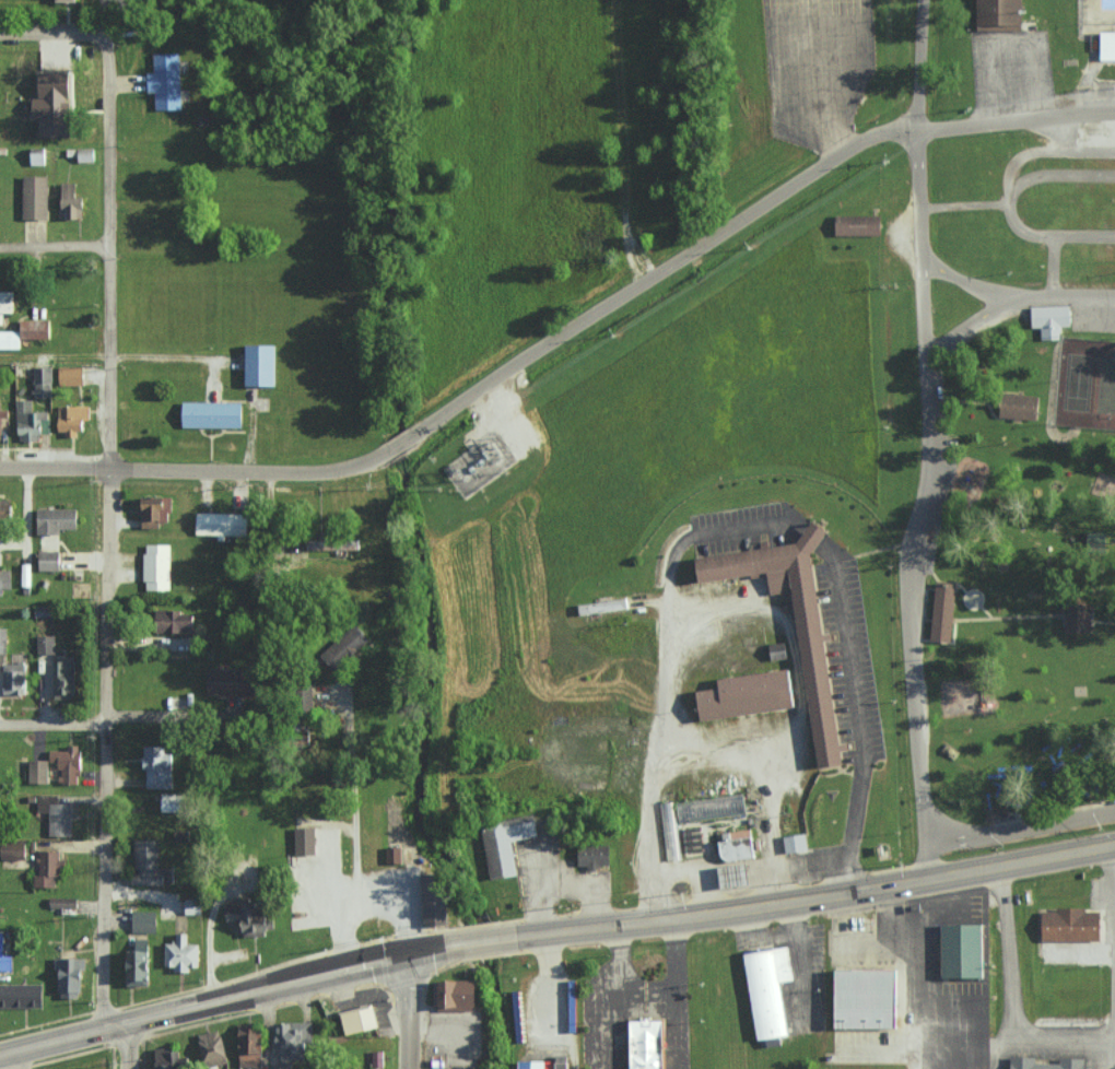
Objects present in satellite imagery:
building: (69, 0)
building: (996, 15)
road: (47, 36)
road: (1010, 42)
road: (1071, 45)
building: (1106, 46)
parking lot: (818, 61)
road: (920, 66)
parking lot: (1011, 72)
road: (813, 79)
building: (166, 81)
road: (1082, 90)
parking lot: (1092, 94)
building: (56, 104)
road: (1014, 121)
parking lot: (1071, 133)
road: (1048, 153)
building: (36, 196)
building: (72, 202)
road: (1009, 205)
road: (964, 207)
building: (855, 226)
road: (54, 245)
road: (1053, 267)
road: (659, 270)
road: (963, 281)
road: (1011, 299)
building: (8, 303)
parking lot: (1092, 314)
building: (1048, 320)
building: (26, 332)
building: (262, 364)
building: (72, 375)
building: (44, 381)
park: (1078, 384)
park: (1106, 387)
road: (973, 401)
building: (1018, 407)
building: (214, 414)
road: (995, 416)
building: (73, 419)
building: (32, 421)
building: (1, 427)
road: (397, 445)
power substation: (482, 465)
road: (191, 470)
park: (1020, 484)
parking lot: (940, 503)
building: (157, 509)
building: (5, 513)
building: (57, 519)
building: (223, 524)
parking lot: (736, 529)
road: (741, 530)
building: (1094, 541)
road: (105, 553)
building: (52, 561)
building: (157, 566)
road: (912, 574)
road: (974, 602)
building: (608, 604)
building: (44, 611)
building: (940, 611)
building: (1075, 616)
road: (1008, 619)
building: (175, 621)
road: (1101, 623)
building: (791, 625)
road: (953, 632)
building: (351, 642)
building: (46, 644)
building: (776, 651)
parking lot: (846, 655)
building: (977, 668)
building: (13, 678)
building: (66, 679)
building: (233, 681)
building: (746, 695)
parking lot: (303, 701)
parking lot: (329, 704)
road: (51, 723)
building: (1107, 752)
building: (68, 763)
building: (159, 766)
building: (38, 771)
road: (354, 797)
building: (175, 802)
building: (709, 808)
building: (58, 814)
building: (991, 817)
building: (669, 832)
building: (309, 842)
building: (797, 843)
building: (502, 844)
building: (733, 845)
road: (924, 846)
building: (17, 849)
building: (391, 856)
building: (590, 857)
building: (149, 864)
parking lot: (532, 868)
building: (49, 869)
building: (737, 876)
parking lot: (592, 880)
parking lot: (348, 888)
road: (366, 898)
building: (430, 901)
building: (64, 902)
building: (195, 906)
building: (255, 918)
building: (145, 921)
building: (1068, 925)
parking lot: (1105, 926)
road: (553, 927)
parking lot: (753, 941)
traffic signals: (406, 944)
parking lot: (862, 944)
building: (959, 951)
building: (184, 953)
building: (4, 956)
road: (1114, 956)
building: (139, 964)
parking lot: (818, 965)
building: (71, 976)
parking lot: (954, 982)
building: (766, 990)
building: (23, 995)
building: (451, 996)
road: (1010, 997)
building: (865, 999)
road: (404, 1007)
parking lot: (342, 1010)
parking lot: (617, 1020)
building: (355, 1022)
parking lot: (463, 1036)
parking lot: (870, 1037)
building: (294, 1043)
building: (643, 1044)
building: (251, 1045)
parking lot: (543, 1046)
building: (213, 1047)
road: (15, 1058)
building: (168, 1058)
building: (1069, 1062)
building: (544, 1065)

